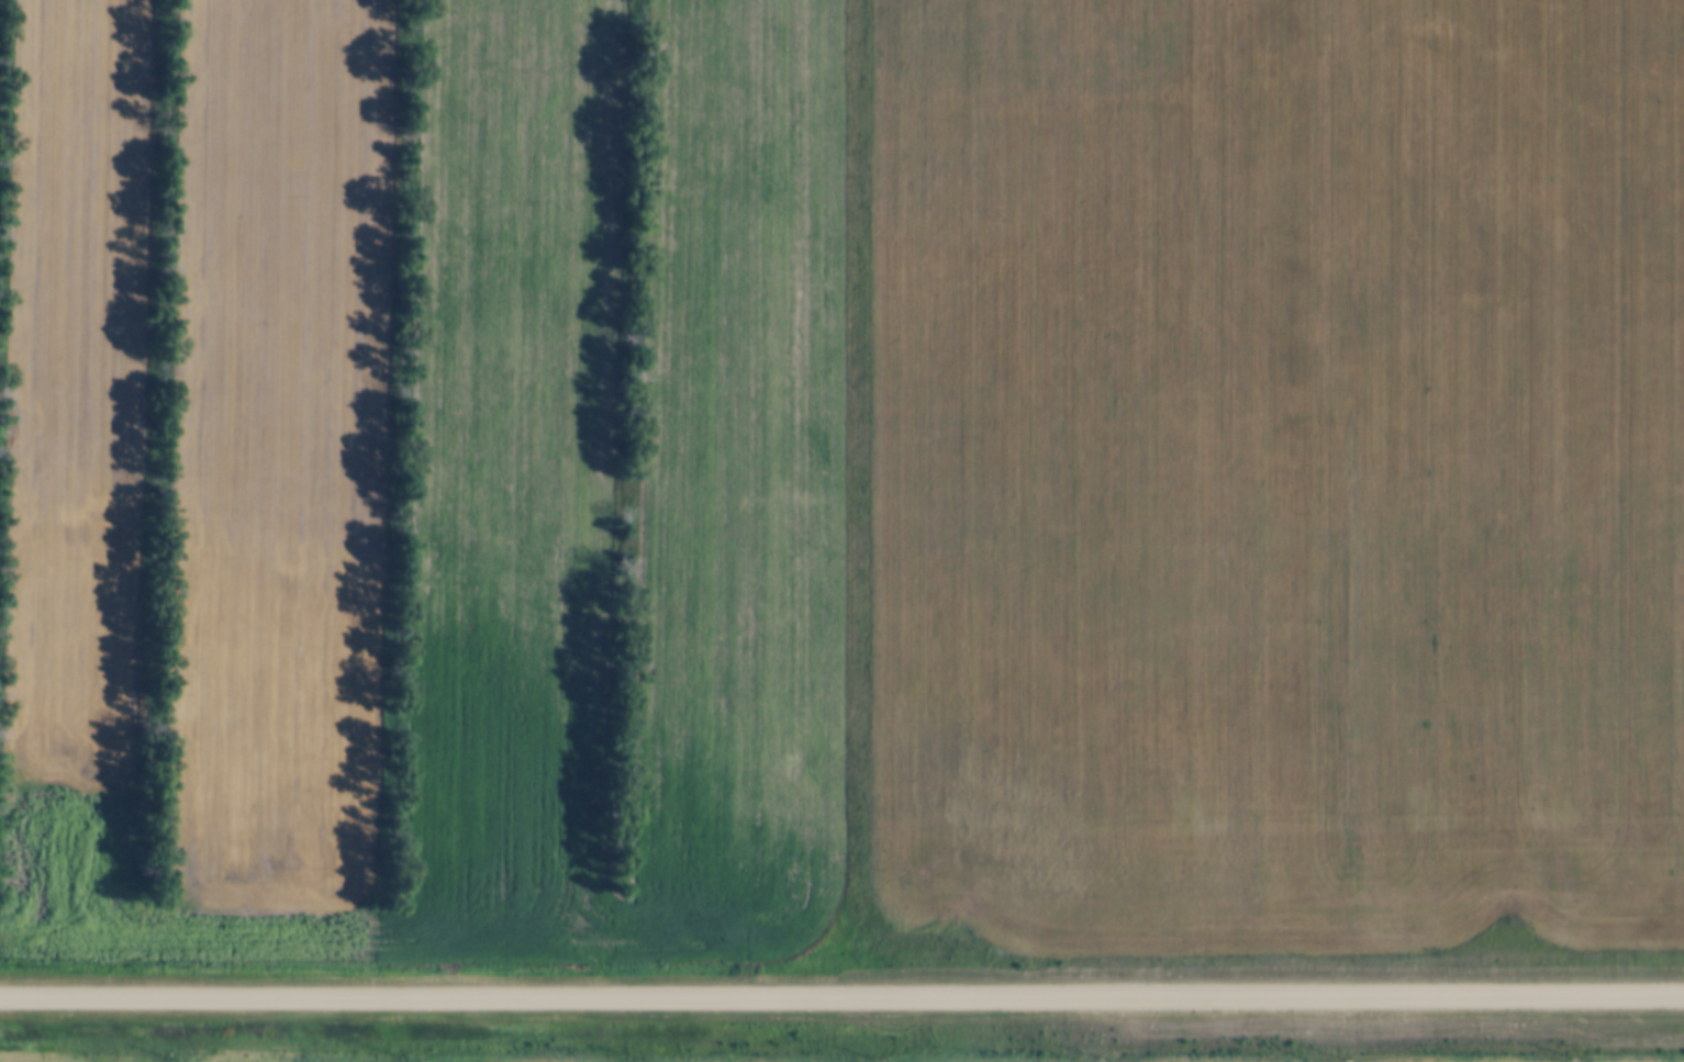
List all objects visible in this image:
road: (841, 995)

